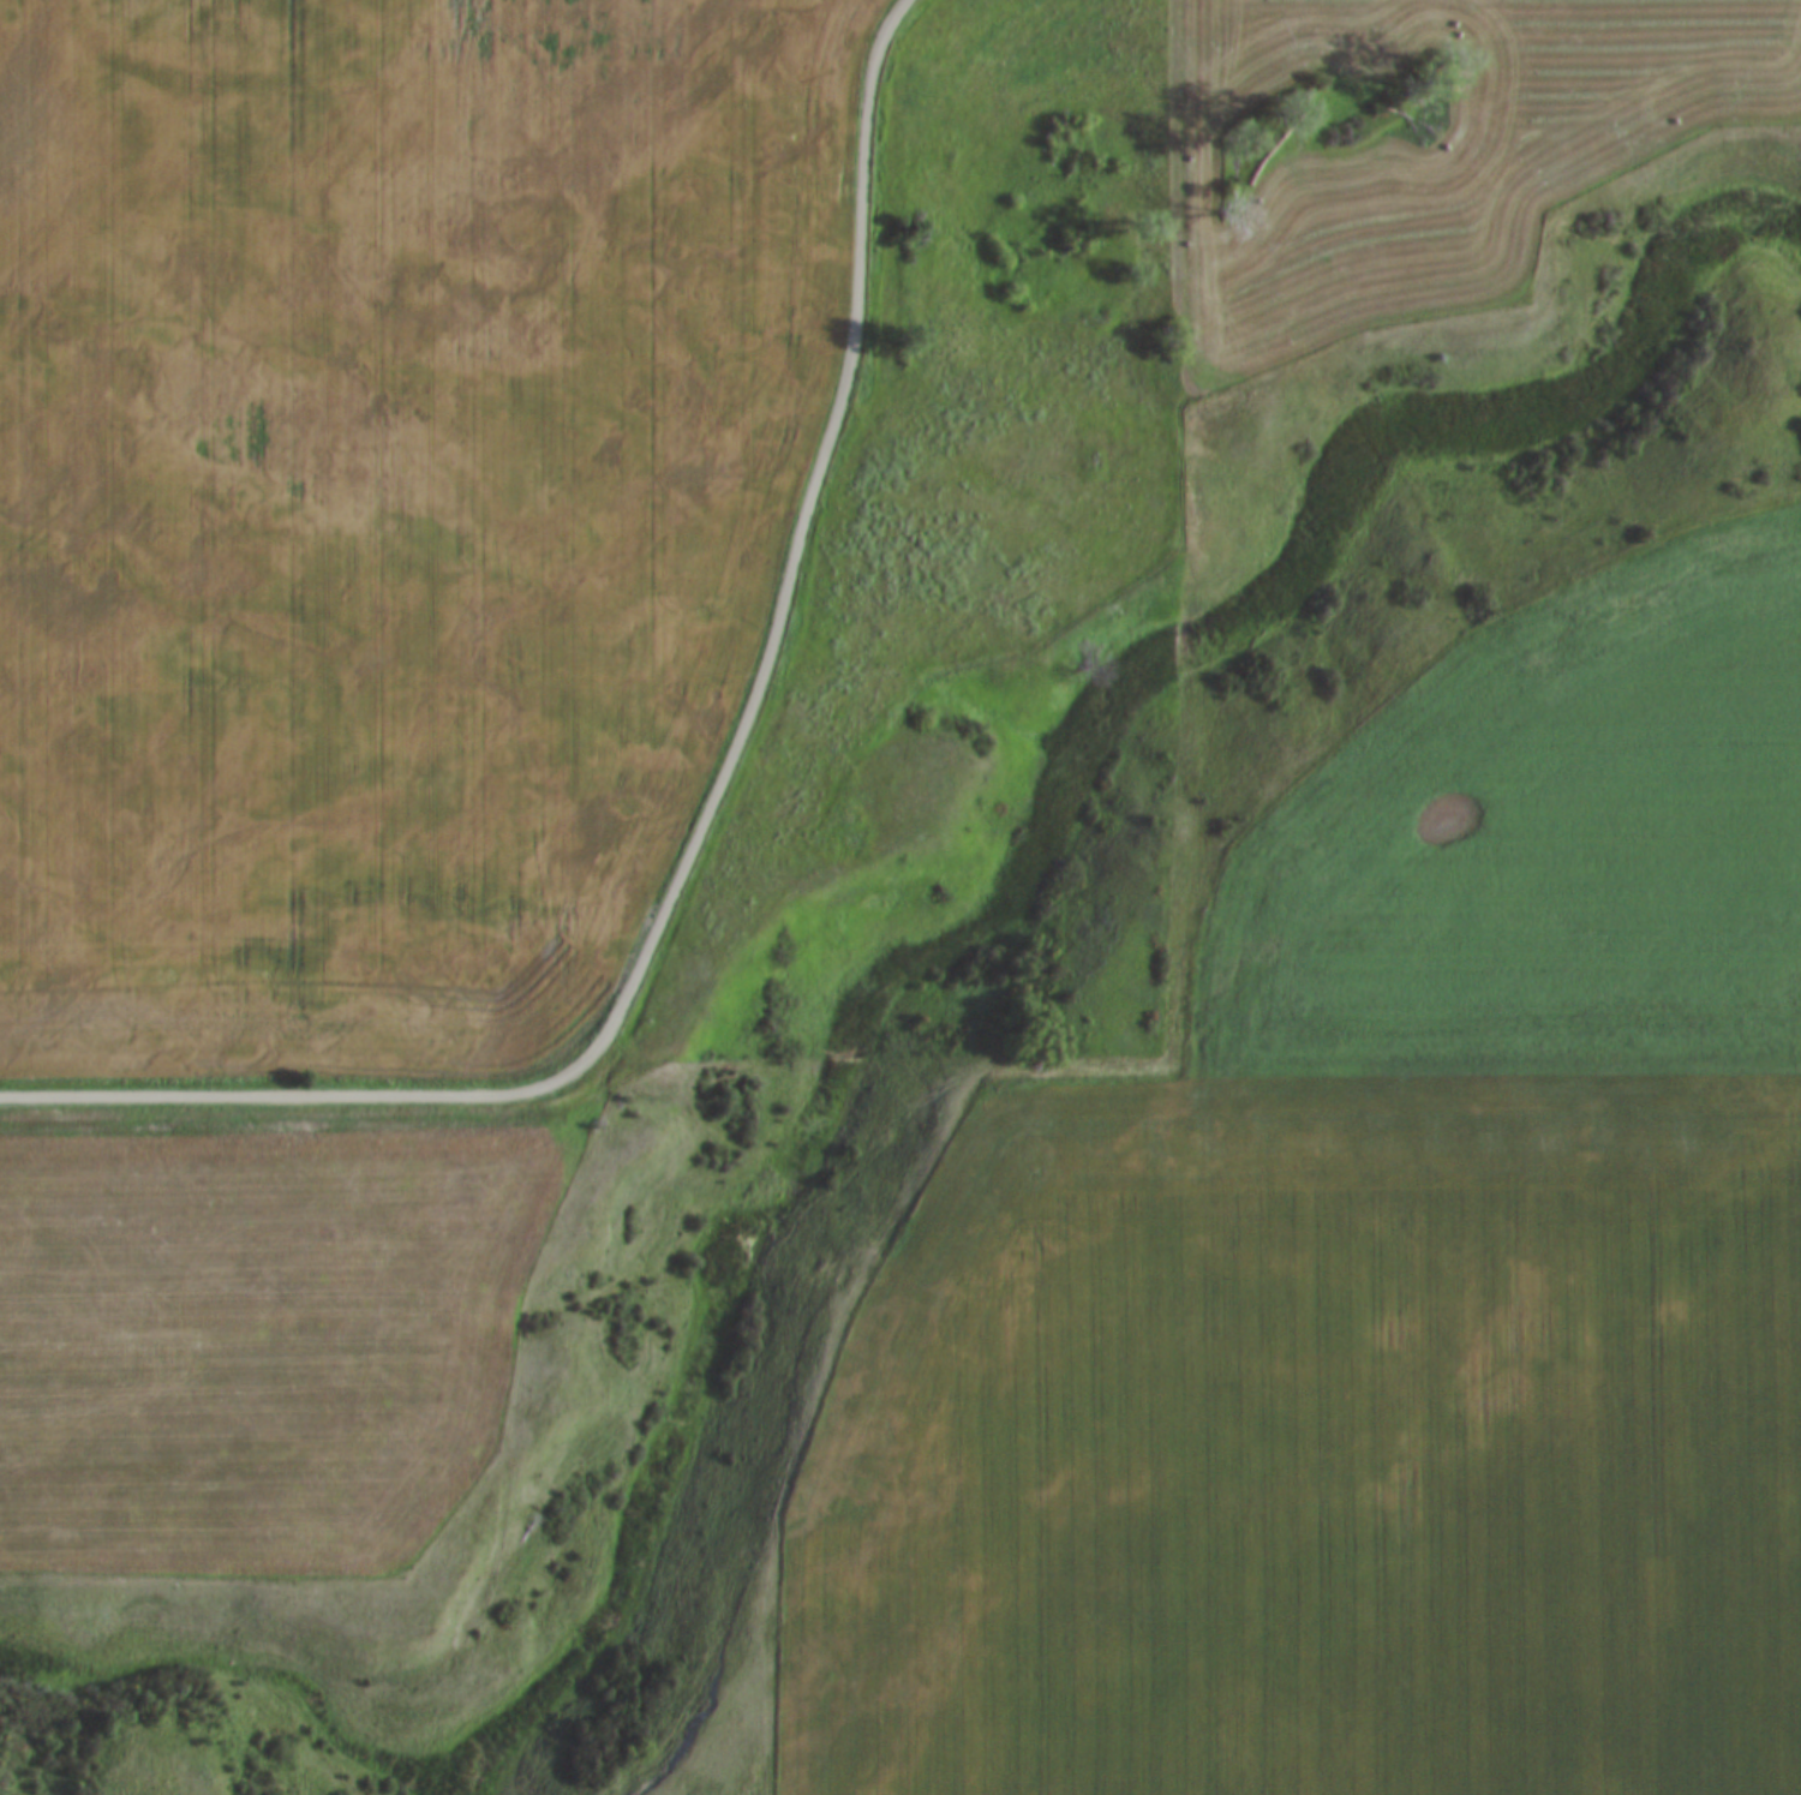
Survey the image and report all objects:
road: (792, 564)
road: (277, 1096)
road: (1175, 1108)

